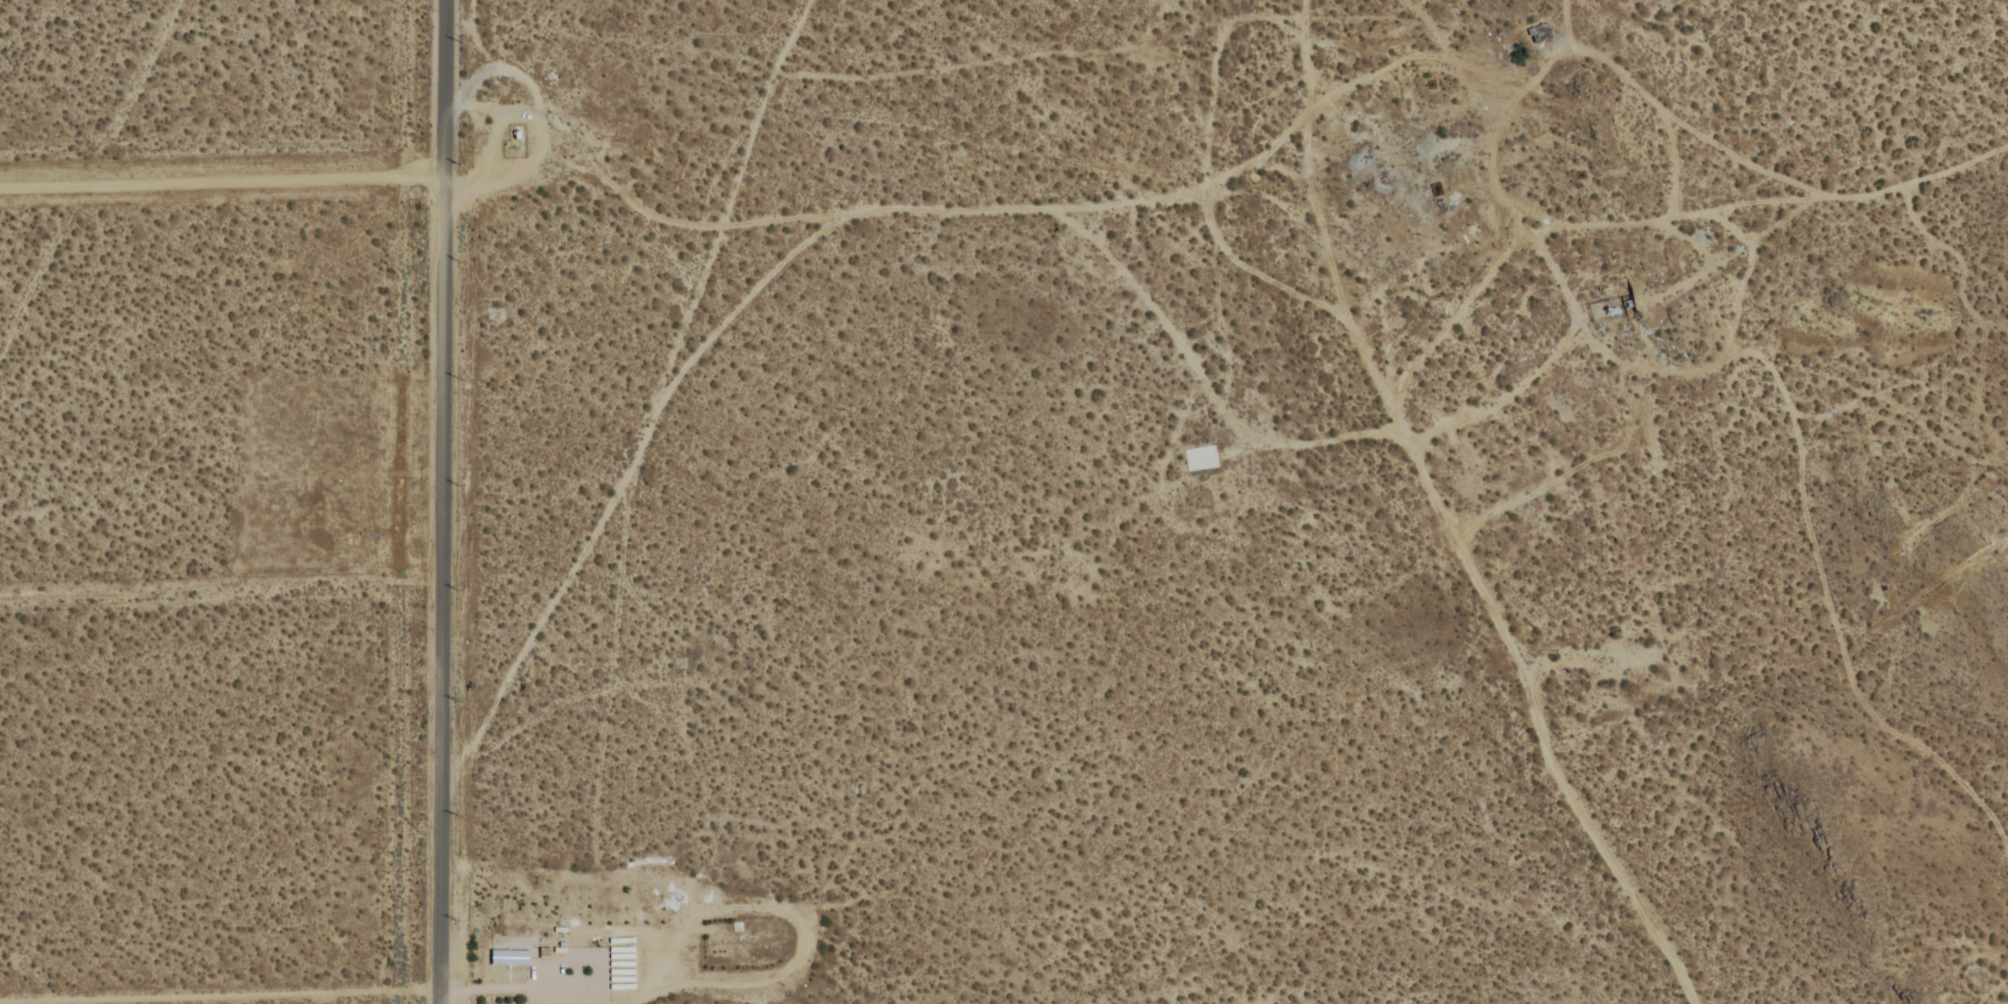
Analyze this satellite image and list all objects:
road: (218, 175)
road: (1659, 219)
road: (435, 502)
road: (1525, 689)
building: (510, 959)
road: (215, 988)

